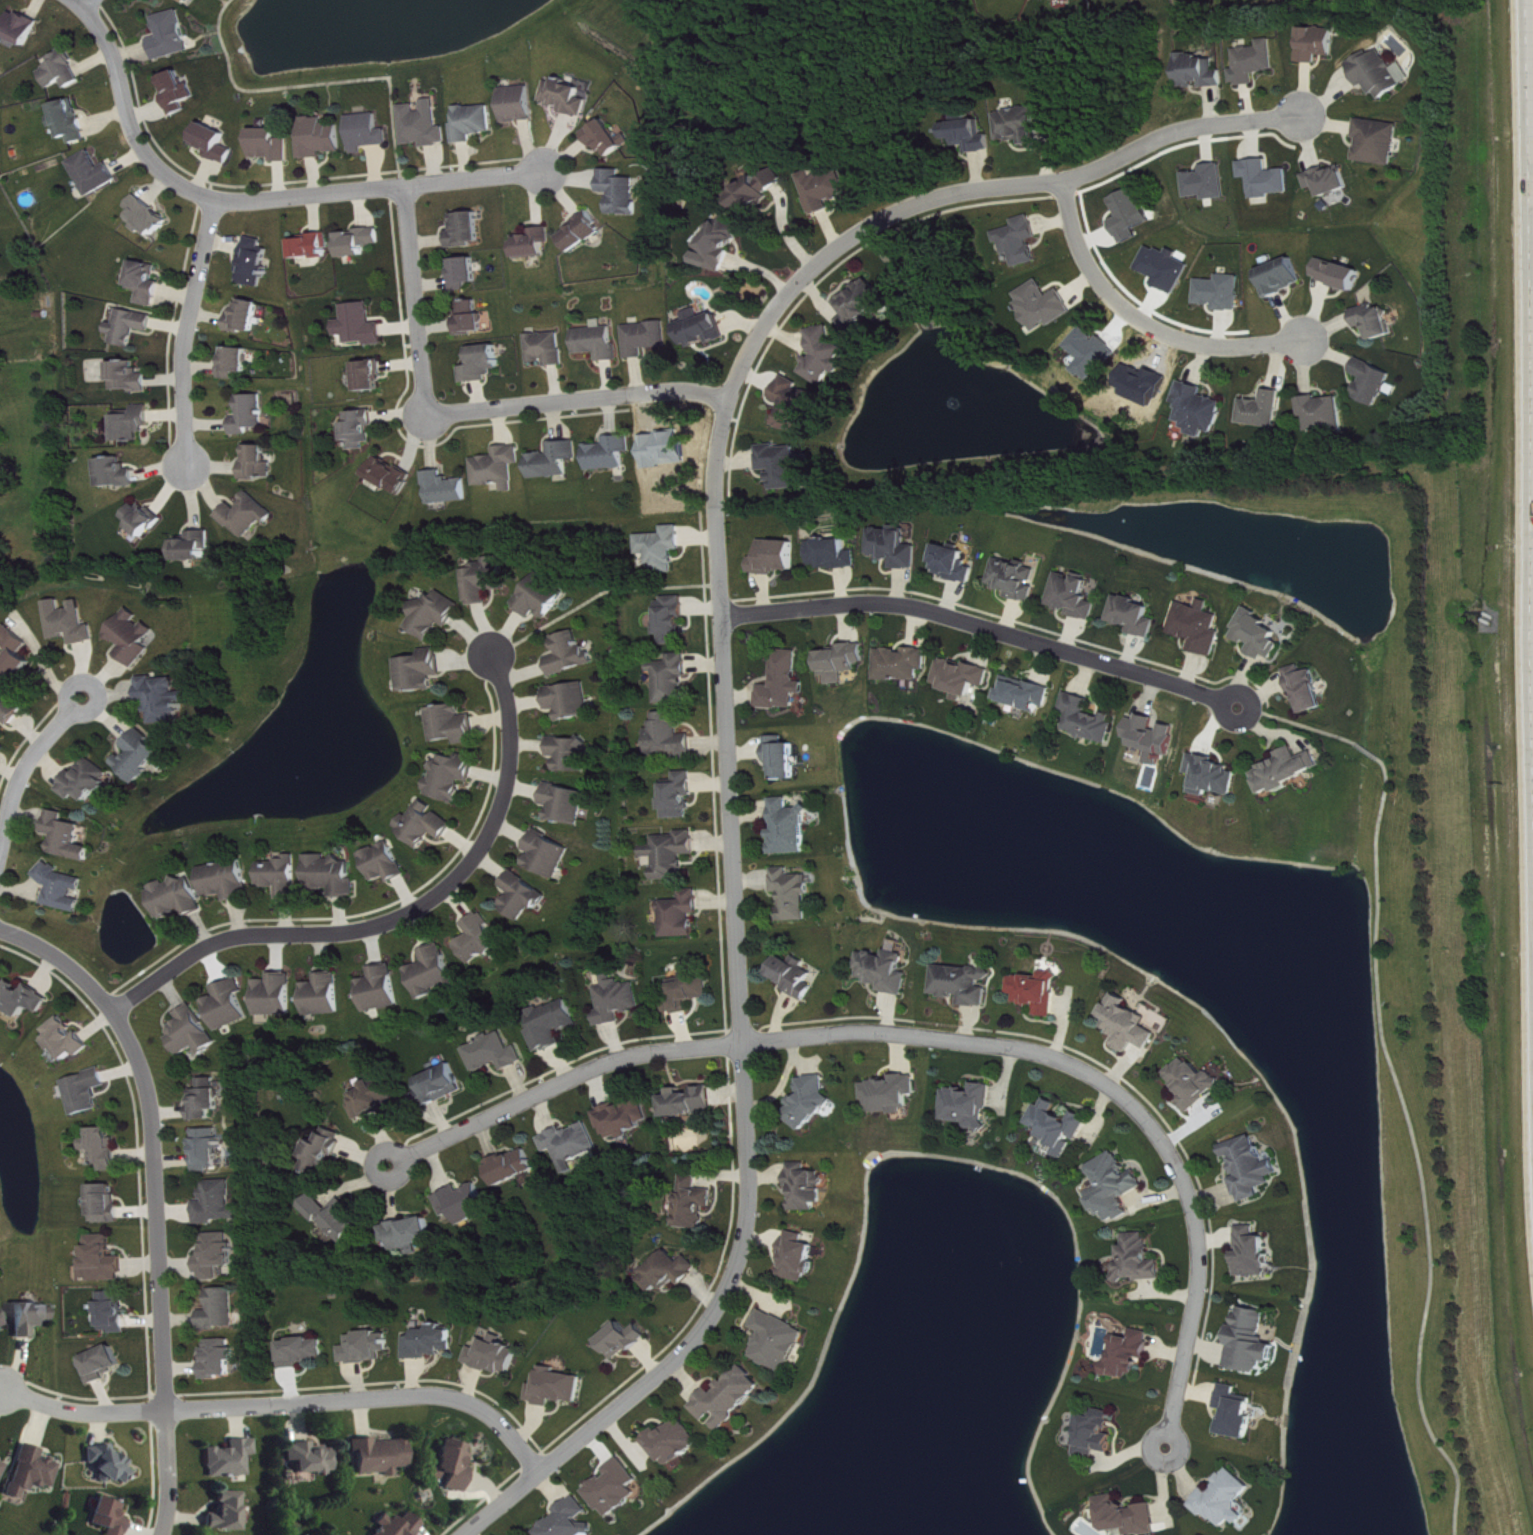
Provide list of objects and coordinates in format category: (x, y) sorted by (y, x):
building: (1058, 0)
building: (188, 1)
road: (89, 4)
building: (23, 29)
building: (173, 36)
building: (1319, 44)
building: (1255, 63)
building: (64, 71)
building: (1200, 72)
building: (1381, 74)
building: (180, 92)
building: (571, 97)
building: (522, 105)
building: (71, 121)
building: (476, 123)
building: (426, 126)
building: (1022, 126)
building: (370, 133)
building: (970, 137)
building: (323, 138)
building: (613, 139)
building: (1380, 142)
building: (217, 143)
building: (274, 145)
building: (96, 174)
building: (1268, 179)
building: (1331, 181)
building: (1209, 183)
building: (828, 190)
building: (625, 192)
building: (759, 193)
road: (255, 198)
building: (0, 203)
building: (1132, 216)
building: (150, 218)
building: (469, 230)
building: (586, 233)
building: (362, 242)
building: (1021, 242)
building: (537, 244)
building: (723, 245)
building: (313, 247)
building: (258, 263)
building: (468, 273)
building: (1341, 275)
building: (1284, 278)
building: (149, 284)
building: (1223, 293)
building: (866, 305)
building: (1045, 306)
building: (248, 317)
building: (475, 319)
road: (1135, 321)
building: (1377, 322)
building: (363, 326)
building: (133, 327)
building: (704, 329)
road: (188, 335)
building: (649, 338)
building: (601, 342)
building: (550, 349)
building: (827, 356)
building: (238, 363)
building: (485, 364)
building: (373, 377)
building: (132, 378)
building: (1375, 383)
building: (798, 406)
building: (1201, 410)
building: (1266, 410)
road: (465, 411)
building: (1325, 414)
building: (253, 415)
building: (136, 424)
building: (363, 429)
building: (613, 454)
building: (558, 461)
building: (261, 463)
building: (785, 466)
building: (501, 468)
building: (120, 474)
building: (393, 476)
building: (449, 489)
building: (250, 516)
building: (147, 520)
building: (196, 547)
building: (898, 548)
building: (663, 549)
building: (835, 554)
building: (778, 558)
building: (958, 565)
building: (1020, 580)
building: (487, 581)
building: (543, 597)
building: (1078, 597)
building: (436, 615)
building: (1139, 616)
building: (674, 621)
building: (73, 623)
road: (985, 624)
building: (1203, 628)
building: (1263, 635)
building: (135, 638)
building: (18, 655)
building: (572, 655)
building: (845, 662)
building: (905, 665)
building: (421, 672)
building: (965, 678)
building: (673, 679)
building: (785, 683)
road: (724, 688)
building: (1311, 690)
building: (1029, 694)
building: (166, 699)
building: (571, 701)
building: (11, 711)
building: (1090, 720)
building: (453, 725)
building: (672, 737)
building: (1156, 738)
building: (571, 754)
building: (142, 757)
building: (784, 759)
road: (26, 762)
building: (1290, 771)
building: (1215, 776)
building: (453, 777)
building: (89, 782)
building: (681, 798)
building: (567, 804)
building: (428, 825)
building: (791, 829)
building: (68, 837)
building: (675, 854)
building: (550, 855)
building: (387, 863)
building: (334, 875)
building: (283, 876)
building: (229, 881)
building: (63, 888)
building: (795, 894)
building: (180, 898)
building: (523, 898)
building: (683, 915)
road: (400, 917)
building: (482, 940)
building: (887, 972)
building: (434, 973)
building: (796, 977)
building: (965, 985)
building: (383, 990)
building: (693, 991)
building: (1040, 992)
building: (278, 996)
building: (325, 996)
building: (25, 999)
building: (618, 1000)
building: (231, 1006)
building: (1131, 1026)
building: (555, 1027)
building: (194, 1033)
road: (937, 1034)
building: (69, 1040)
building: (495, 1054)
road: (1399, 1076)
building: (1196, 1084)
building: (442, 1086)
building: (89, 1092)
building: (892, 1095)
building: (376, 1099)
building: (209, 1101)
building: (811, 1101)
building: (691, 1102)
building: (972, 1108)
building: (625, 1119)
building: (1061, 1127)
building: (573, 1144)
building: (105, 1150)
building: (210, 1150)
building: (325, 1152)
building: (514, 1168)
building: (1252, 1169)
building: (807, 1188)
building: (1117, 1188)
road: (155, 1197)
building: (220, 1203)
building: (466, 1204)
building: (108, 1205)
building: (695, 1205)
building: (337, 1219)
building: (412, 1235)
building: (1256, 1254)
building: (219, 1256)
building: (800, 1258)
building: (104, 1261)
building: (1139, 1261)
building: (672, 1273)
building: (222, 1310)
building: (114, 1312)
building: (33, 1319)
building: (2, 1324)
building: (625, 1341)
building: (779, 1342)
building: (432, 1343)
building: (1253, 1343)
building: (367, 1348)
building: (303, 1352)
building: (1132, 1354)
building: (496, 1356)
building: (221, 1360)
building: (103, 1365)
building: (558, 1388)
building: (730, 1399)
road: (285, 1404)
building: (1238, 1414)
building: (1099, 1434)
building: (675, 1443)
building: (383, 1457)
building: (313, 1459)
building: (232, 1460)
building: (111, 1466)
building: (456, 1466)
building: (3, 1470)
building: (34, 1472)
building: (618, 1489)
building: (1226, 1500)
building: (229, 1513)
building: (112, 1517)
building: (1130, 1517)
building: (571, 1521)
building: (401, 1526)

